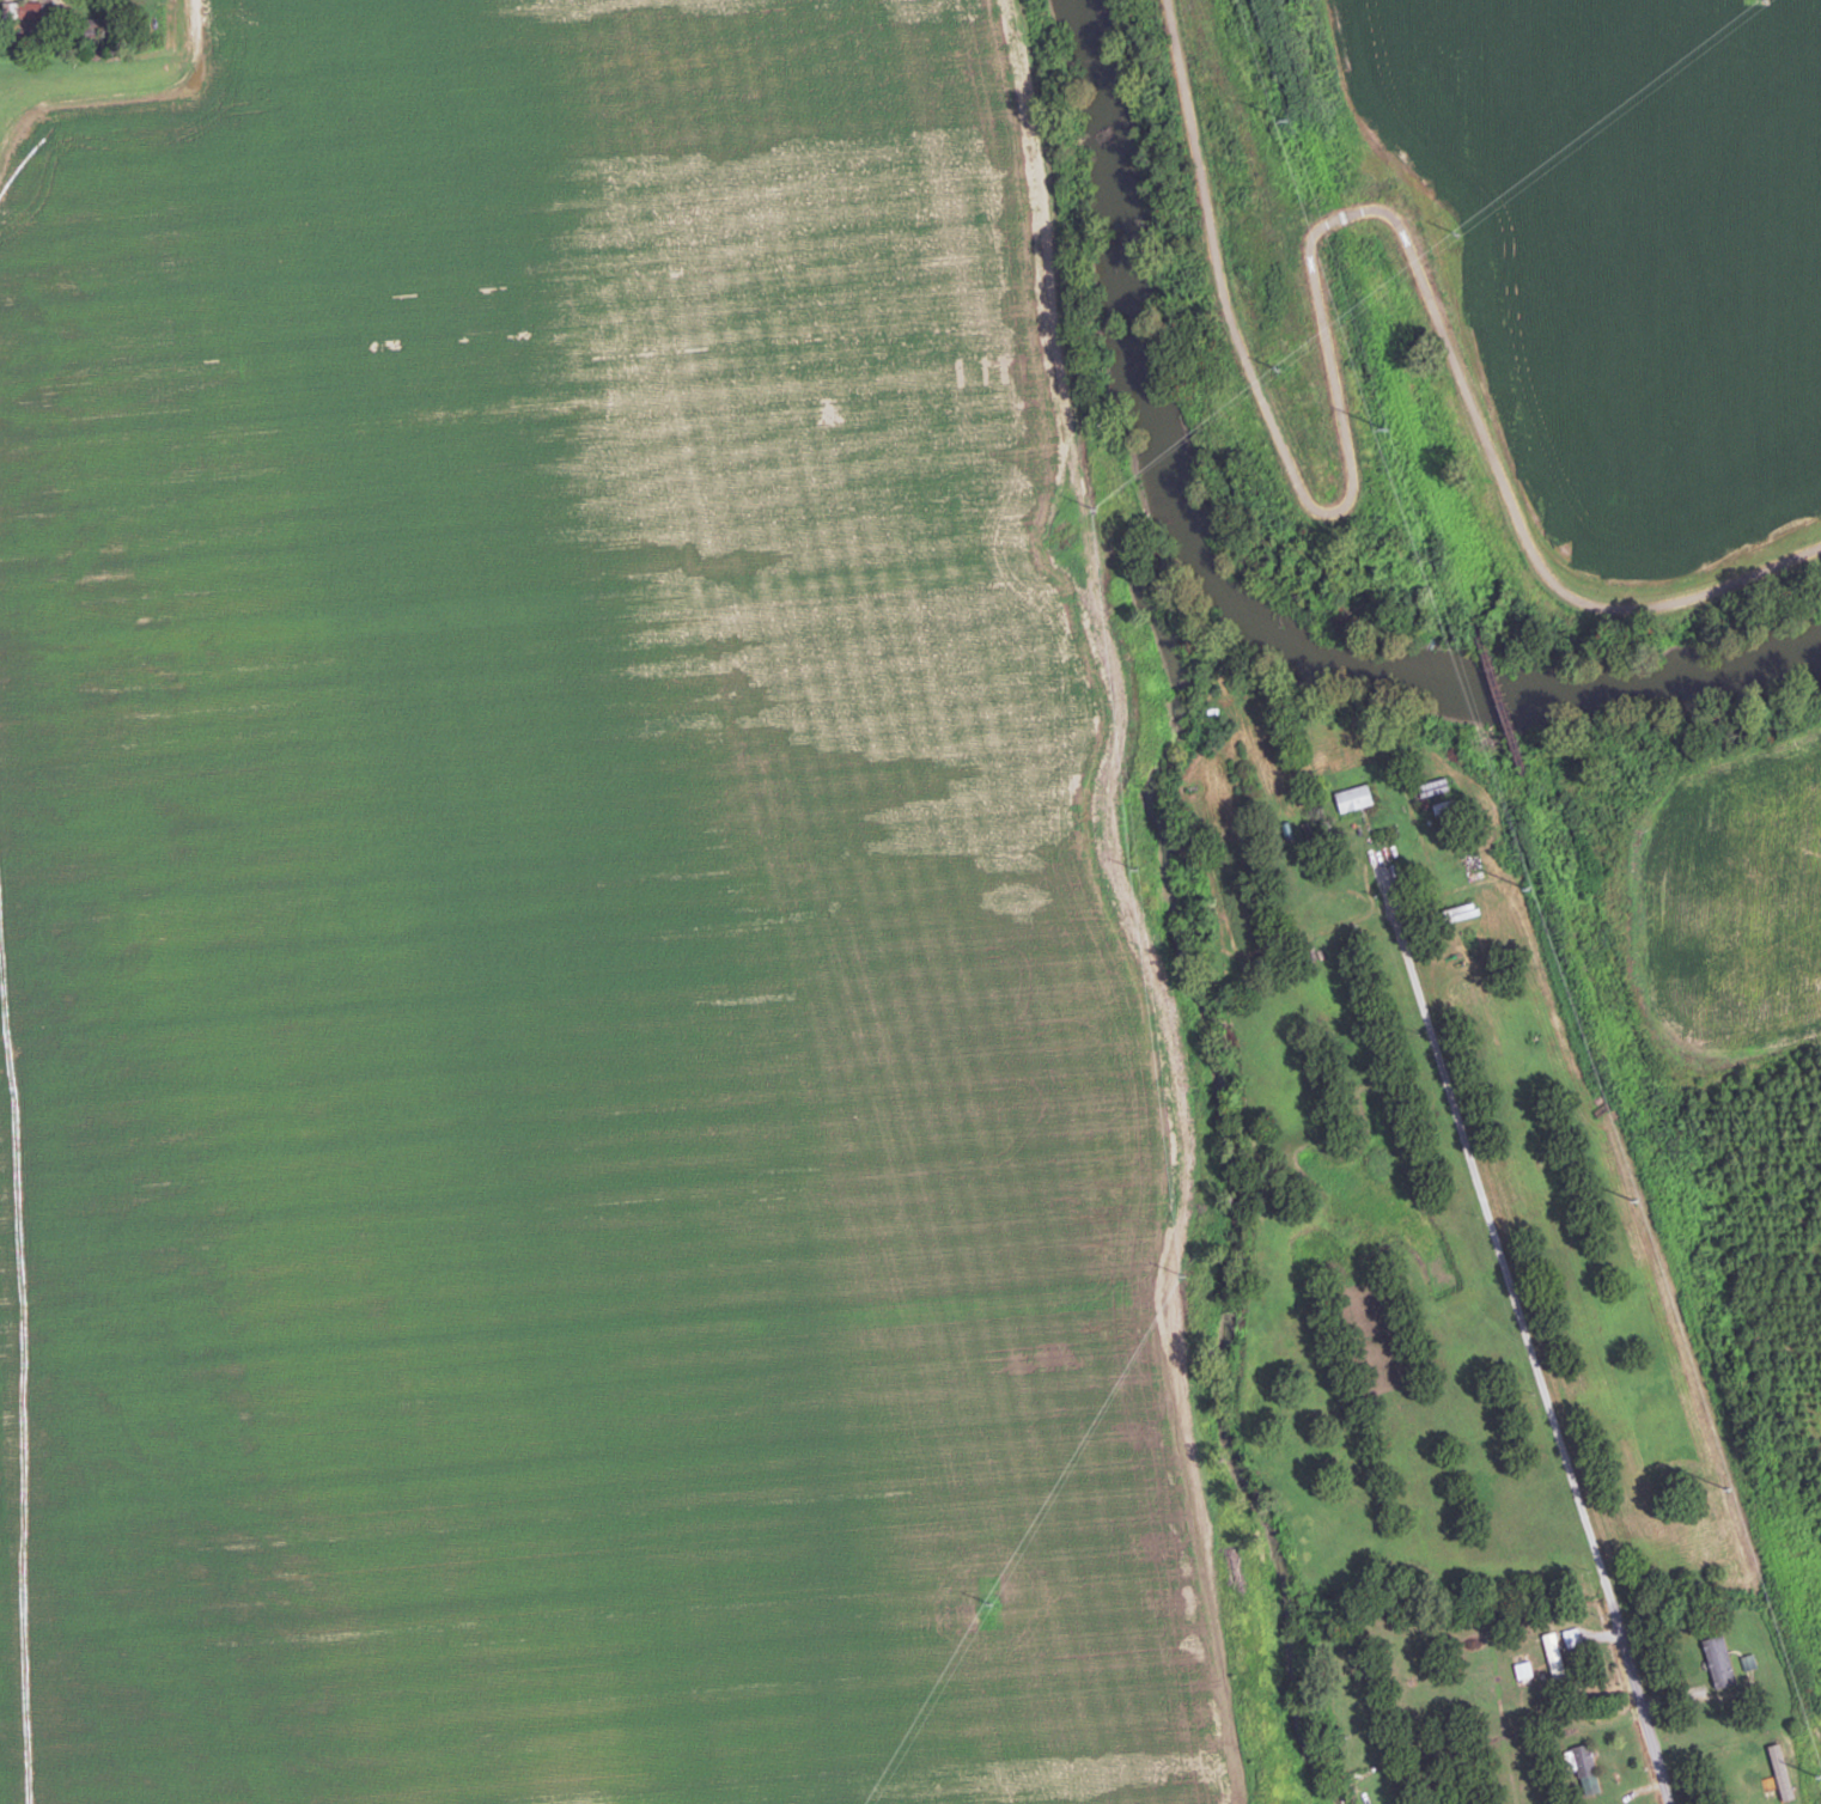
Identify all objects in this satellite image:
building: (31, 11)
road: (117, 74)
power tower: (1289, 118)
power tower: (1385, 427)
building: (1433, 788)
building: (1354, 799)
railway: (1547, 847)
power tower: (1529, 885)
power tower: (1638, 1199)
power tower: (1730, 1486)
building: (1573, 1638)
building: (1555, 1658)
building: (1720, 1662)
building: (1748, 1662)
road: (1640, 1694)
road: (1490, 1717)
building: (1584, 1761)

